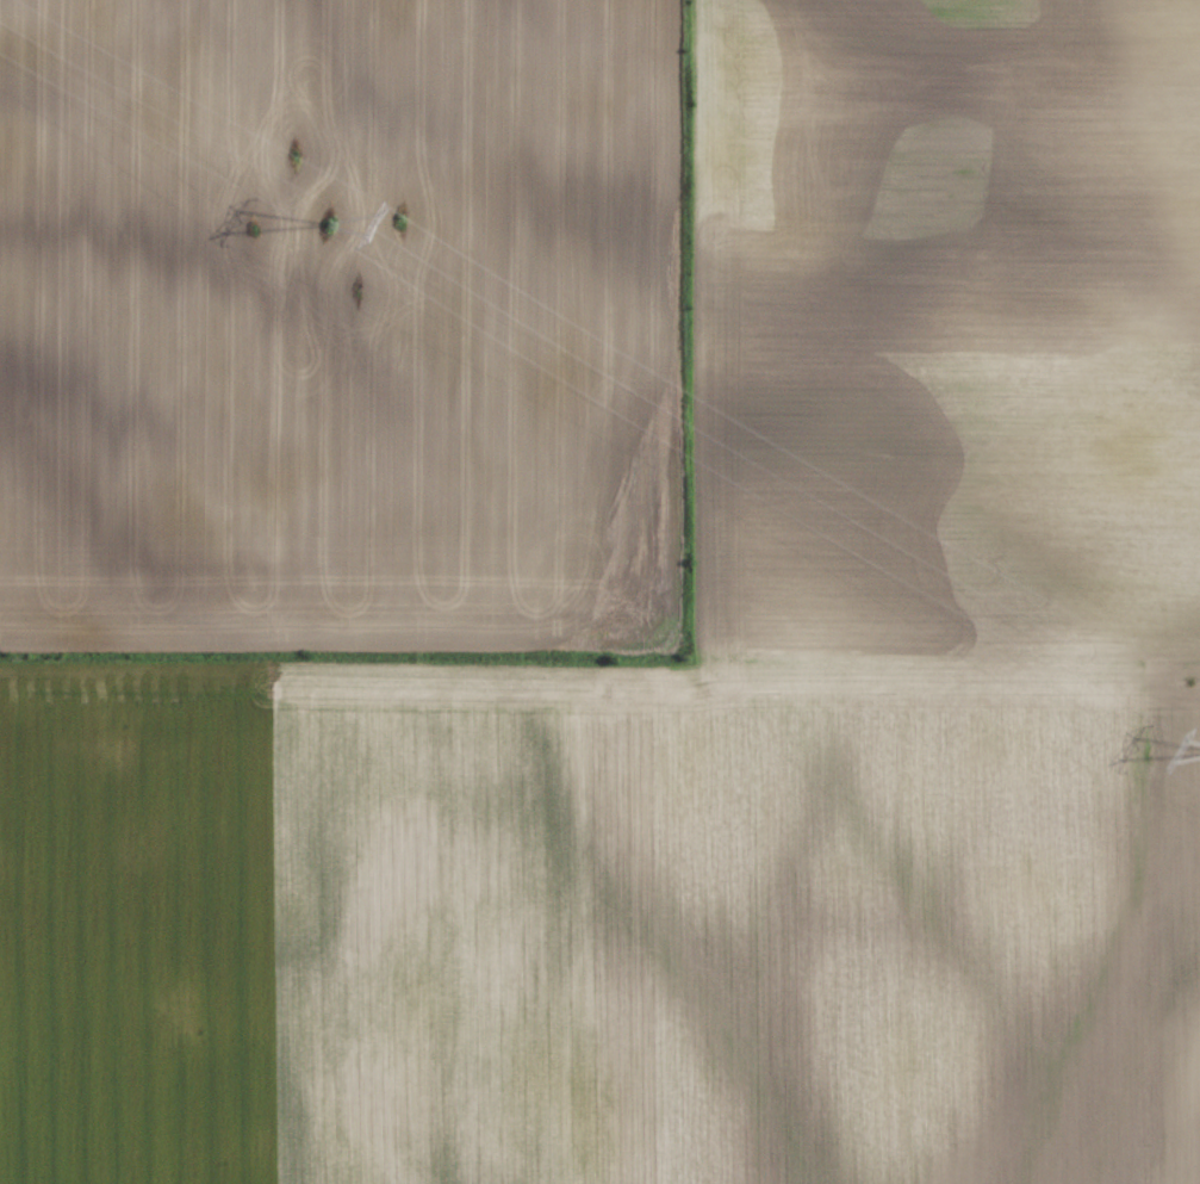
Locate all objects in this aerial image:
power tower: (330, 224)

